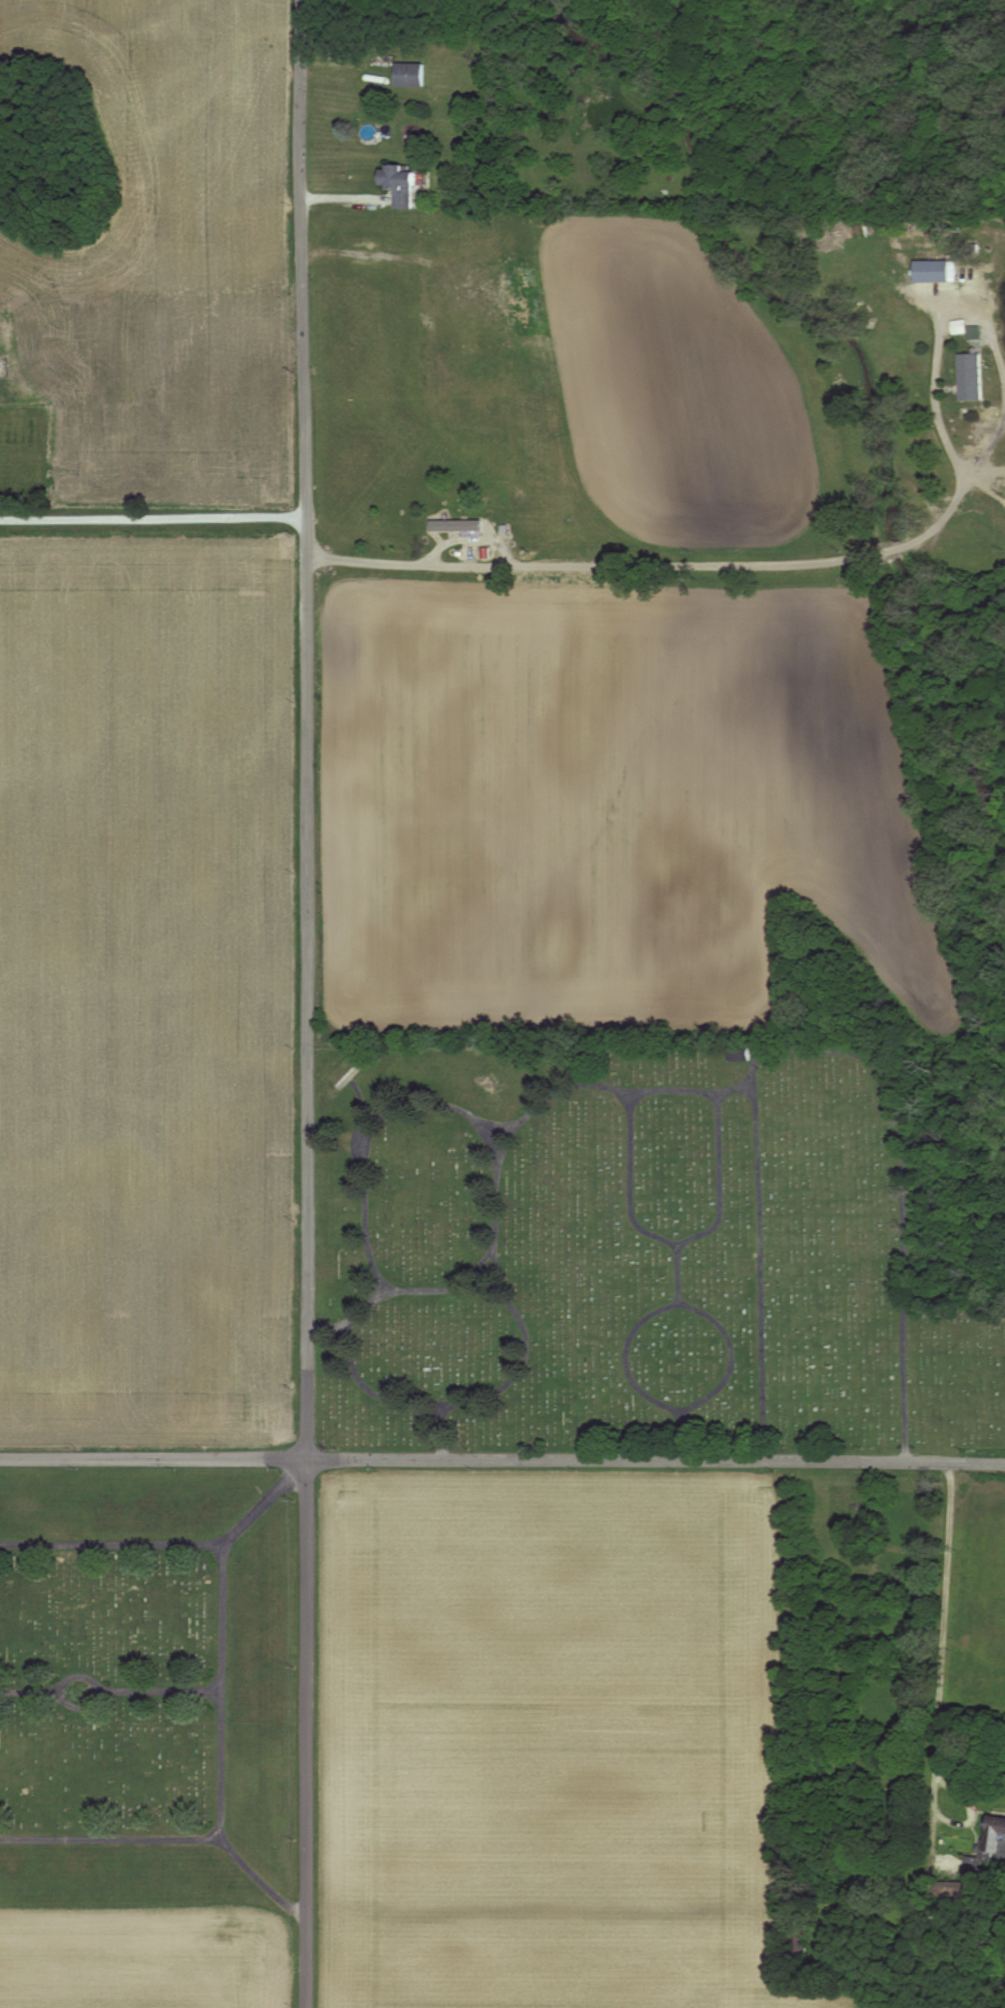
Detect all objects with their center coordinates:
building: (411, 72)
building: (403, 183)
building: (935, 269)
building: (973, 331)
building: (14, 362)
building: (970, 375)
road: (152, 516)
building: (456, 523)
building: (486, 551)
road: (845, 560)
road: (306, 1004)
road: (797, 1039)
road: (680, 1240)
park: (640, 1244)
road: (760, 1267)
road: (684, 1268)
road: (446, 1284)
road: (710, 1300)
road: (438, 1400)
road: (443, 1430)
road: (502, 1460)
road: (264, 1500)
road: (942, 1656)
park: (150, 1682)
road: (158, 1689)
road: (220, 1689)
road: (30, 1691)
road: (78, 1707)
building: (997, 1830)
building: (972, 1864)
road: (261, 1881)
building: (962, 1887)

